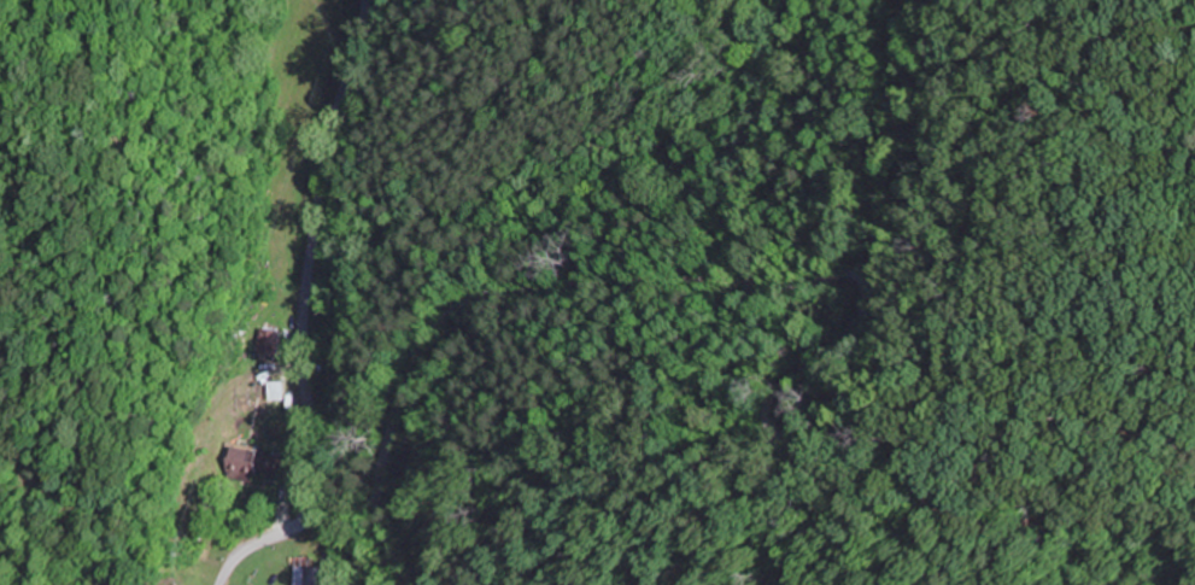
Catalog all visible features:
road: (299, 314)
building: (273, 341)
building: (260, 463)
building: (307, 568)

